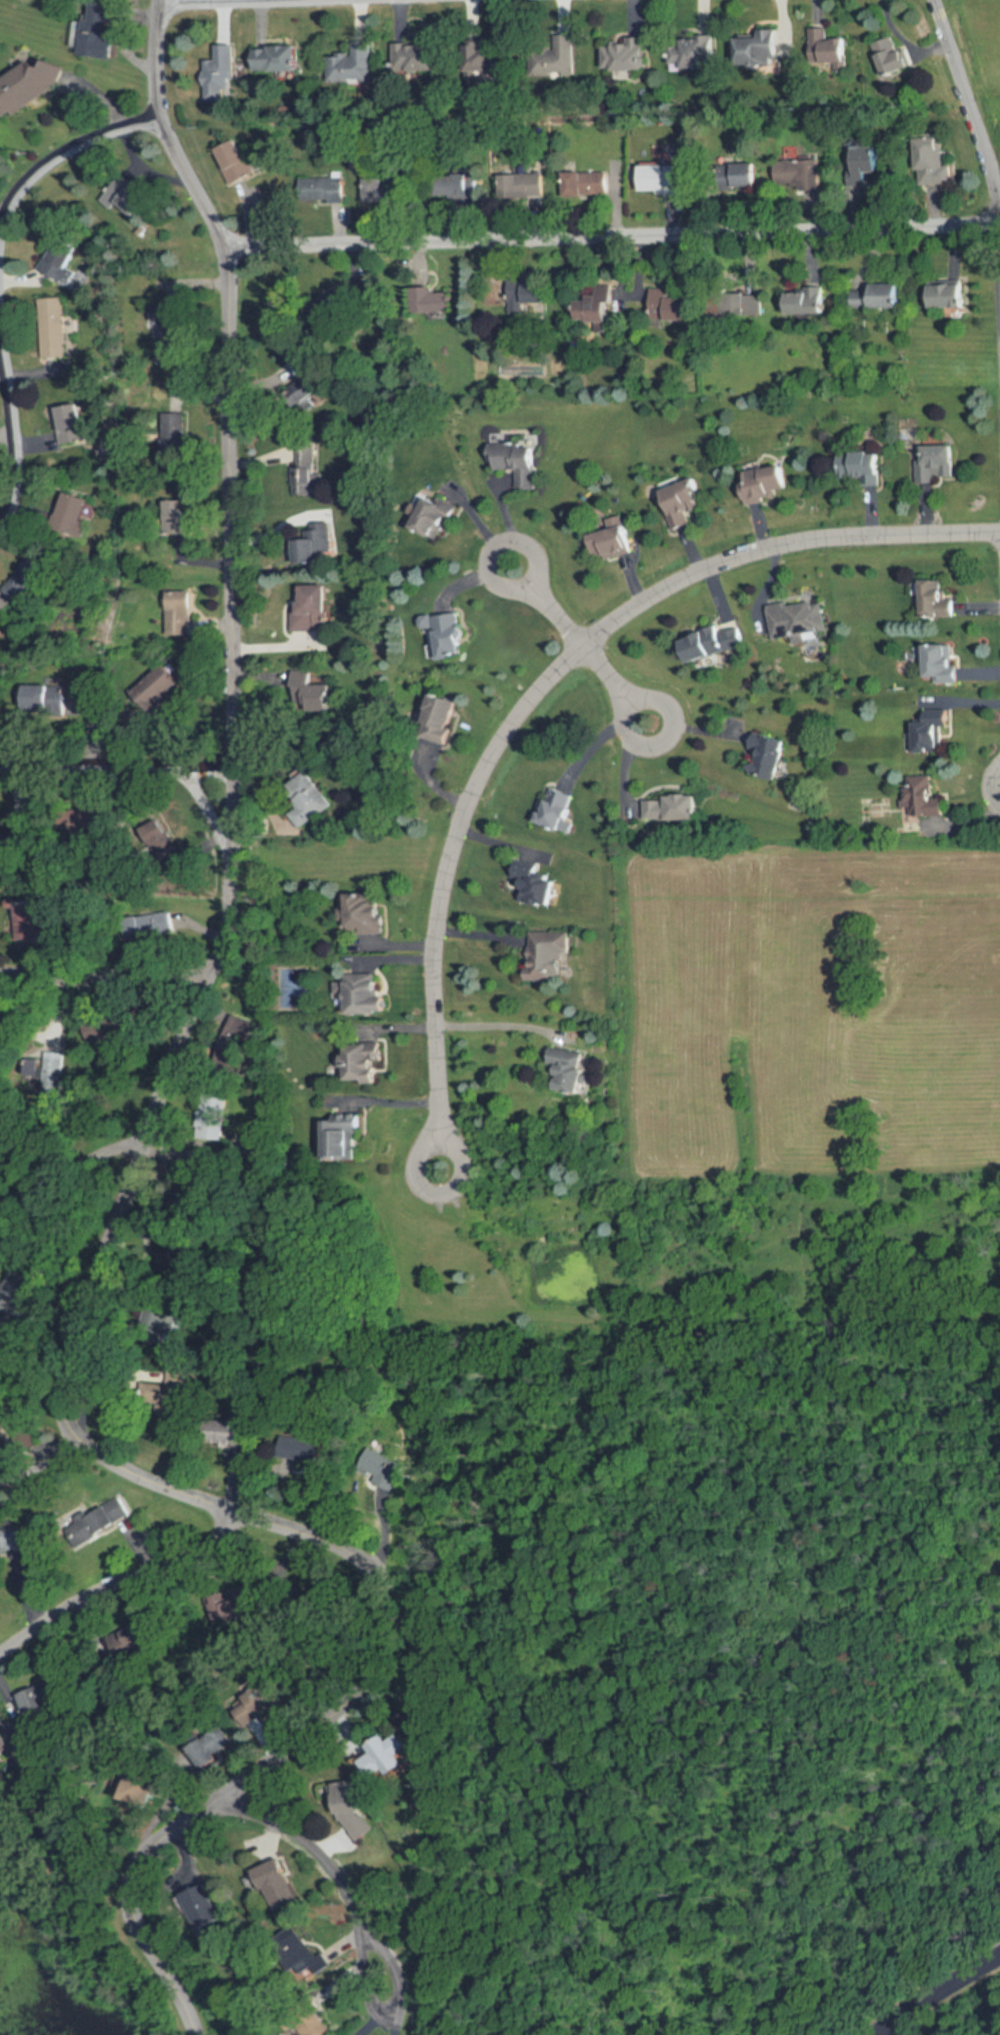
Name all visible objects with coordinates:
road: (197, 1)
park: (5, 12)
building: (100, 30)
park: (987, 37)
building: (759, 49)
building: (691, 52)
building: (837, 52)
building: (624, 54)
building: (892, 56)
building: (414, 58)
building: (278, 59)
building: (479, 61)
building: (350, 65)
building: (219, 75)
building: (28, 83)
road: (970, 92)
road: (58, 156)
building: (870, 159)
building: (235, 162)
building: (933, 162)
building: (743, 175)
building: (658, 178)
building: (586, 183)
building: (522, 184)
building: (321, 187)
building: (382, 189)
building: (131, 198)
road: (614, 235)
building: (63, 258)
building: (527, 292)
building: (949, 295)
building: (879, 297)
building: (431, 301)
building: (810, 302)
building: (669, 306)
building: (596, 308)
building: (163, 316)
building: (53, 328)
road: (13, 420)
building: (71, 423)
building: (520, 463)
building: (937, 463)
building: (861, 467)
building: (304, 470)
building: (767, 483)
building: (683, 503)
building: (71, 513)
building: (175, 516)
building: (436, 518)
road: (483, 523)
building: (613, 540)
building: (313, 546)
building: (940, 599)
road: (548, 605)
building: (311, 608)
building: (179, 611)
building: (797, 619)
building: (445, 637)
building: (712, 642)
building: (944, 663)
road: (552, 676)
road: (617, 681)
building: (307, 688)
building: (40, 697)
building: (442, 718)
building: (934, 734)
road: (600, 741)
building: (766, 755)
road: (116, 765)
road: (990, 787)
building: (925, 796)
building: (308, 799)
building: (556, 807)
building: (673, 808)
road: (226, 819)
building: (536, 879)
building: (361, 913)
building: (546, 956)
road: (103, 967)
building: (363, 995)
road: (493, 1021)
building: (364, 1062)
building: (572, 1079)
building: (342, 1141)
road: (73, 1168)
road: (128, 1184)
road: (435, 1194)
building: (165, 1392)
building: (232, 1434)
building: (303, 1449)
road: (39, 1460)
building: (374, 1466)
road: (121, 1579)
building: (43, 1697)
building: (259, 1700)
building: (375, 1761)
building: (348, 1811)
road: (330, 1862)
building: (277, 1885)
building: (202, 1907)
building: (300, 1953)
road: (935, 1990)
road: (388, 2007)
park: (959, 2010)

